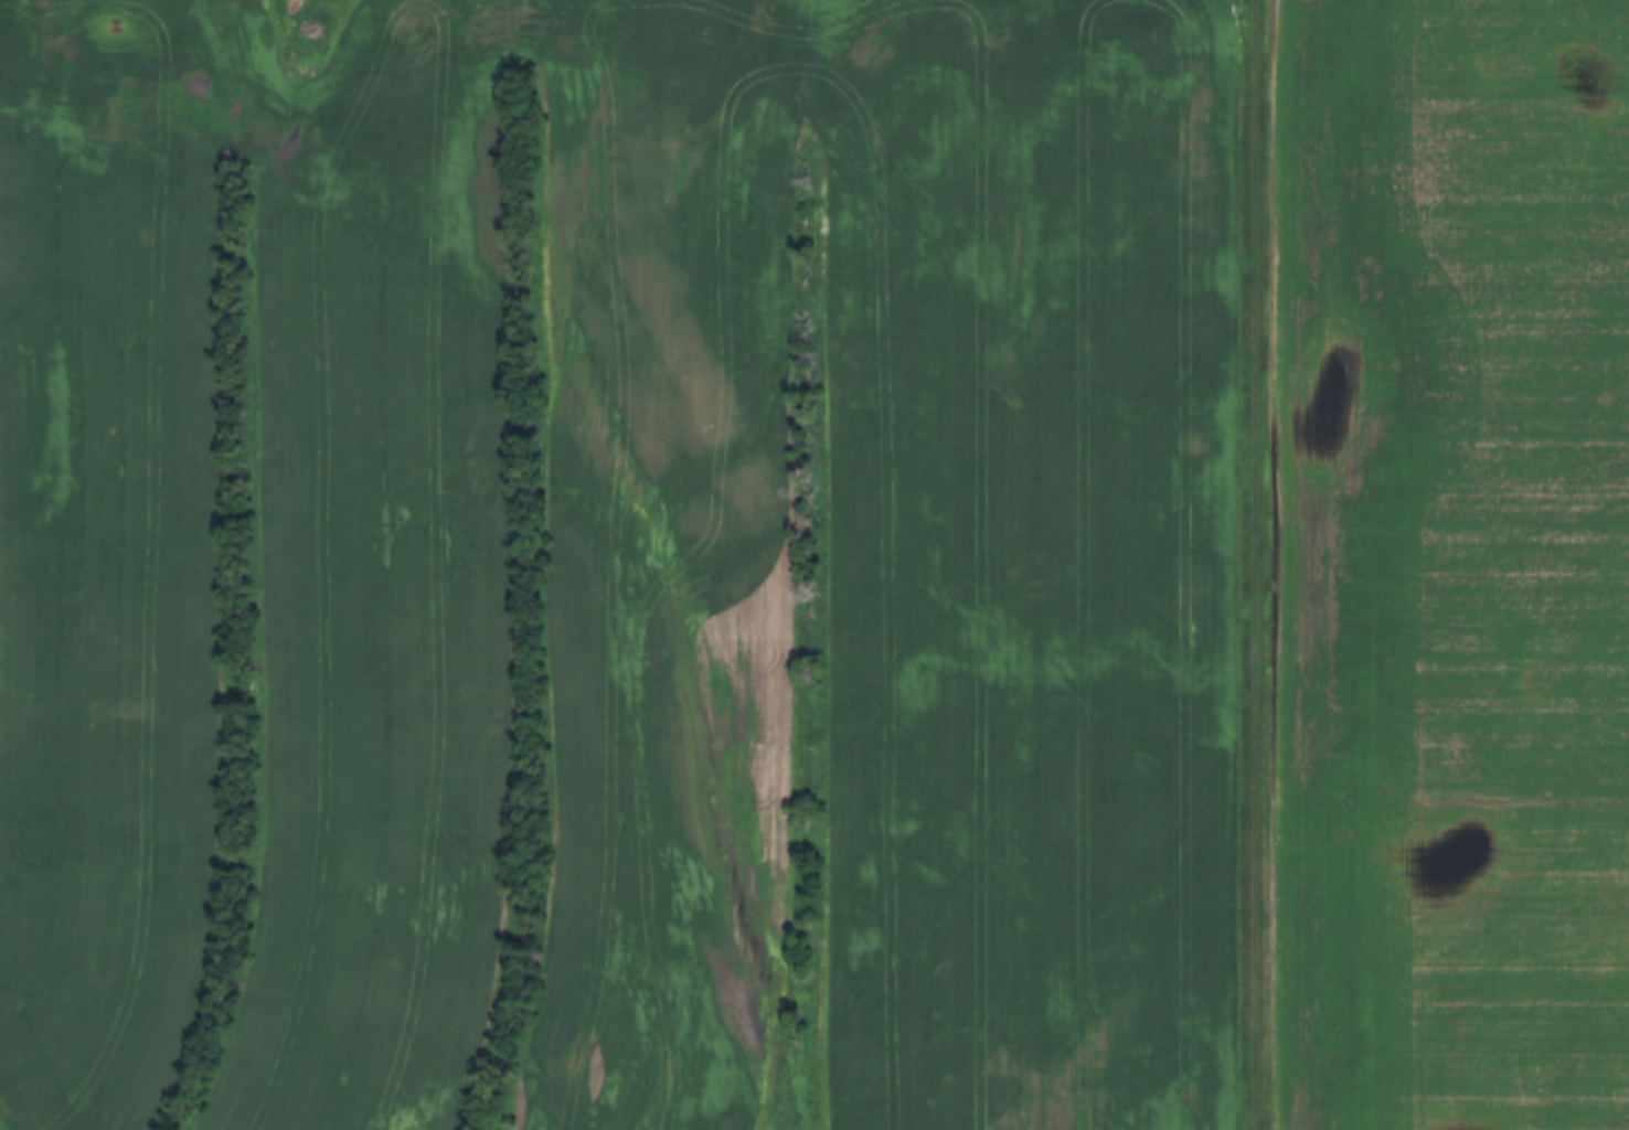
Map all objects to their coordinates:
road: (1257, 564)

